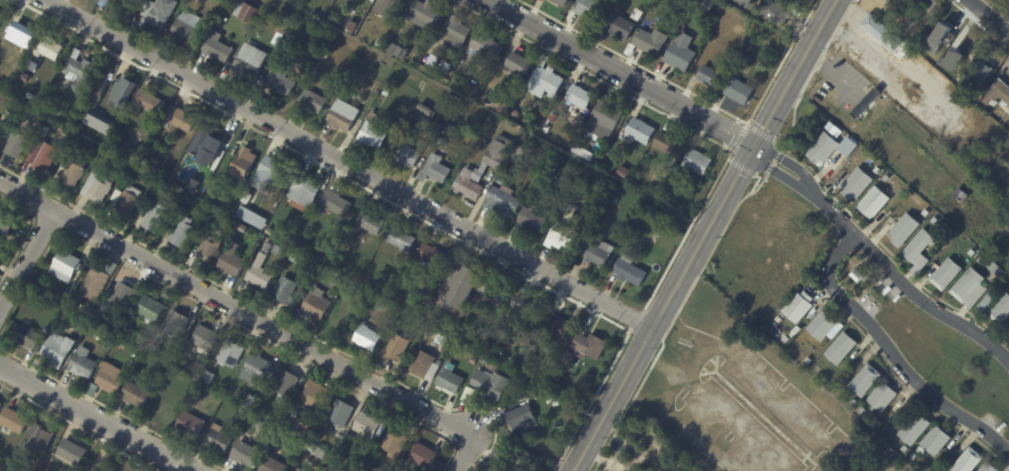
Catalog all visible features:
building: (205, 0)
building: (351, 0)
building: (370, 0)
building: (797, 0)
building: (888, 0)
building: (789, 1)
building: (108, 2)
building: (560, 2)
building: (686, 2)
building: (746, 2)
building: (130, 3)
building: (704, 4)
building: (392, 7)
building: (589, 9)
building: (751, 9)
building: (929, 10)
building: (162, 11)
building: (249, 11)
building: (428, 13)
building: (775, 14)
building: (637, 15)
road: (990, 16)
building: (2, 17)
building: (687, 19)
building: (347, 21)
building: (282, 25)
building: (683, 25)
building: (354, 26)
building: (620, 27)
building: (193, 28)
building: (879, 32)
building: (461, 33)
building: (22, 34)
building: (650, 42)
building: (948, 42)
building: (29, 47)
building: (221, 47)
building: (319, 47)
building: (51, 48)
building: (488, 48)
building: (395, 49)
building: (680, 53)
building: (326, 54)
building: (407, 57)
building: (253, 60)
building: (521, 63)
building: (36, 64)
building: (18, 67)
building: (371, 67)
road: (889, 67)
building: (299, 69)
building: (981, 69)
building: (380, 71)
road: (796, 71)
building: (81, 72)
road: (621, 72)
building: (861, 72)
building: (440, 74)
building: (709, 77)
building: (547, 79)
building: (390, 80)
building: (283, 81)
building: (119, 84)
building: (389, 91)
building: (738, 92)
building: (997, 94)
building: (584, 96)
building: (316, 100)
building: (153, 101)
building: (453, 106)
building: (542, 106)
building: (508, 107)
building: (441, 110)
building: (1008, 112)
building: (518, 113)
building: (345, 116)
building: (183, 118)
building: (554, 118)
building: (607, 120)
building: (76, 121)
building: (82, 125)
building: (499, 127)
building: (453, 128)
building: (549, 128)
building: (63, 129)
building: (3, 130)
building: (645, 130)
building: (48, 131)
building: (376, 131)
building: (427, 132)
building: (151, 136)
building: (525, 136)
building: (571, 137)
building: (446, 139)
building: (210, 143)
building: (672, 143)
building: (21, 144)
traffic signals: (755, 144)
building: (434, 145)
building: (94, 147)
building: (831, 147)
building: (585, 151)
building: (414, 154)
building: (46, 155)
traffic signals: (747, 156)
building: (518, 157)
road: (783, 160)
building: (702, 161)
building: (125, 162)
building: (247, 163)
road: (348, 163)
building: (486, 168)
building: (439, 169)
building: (78, 170)
building: (877, 170)
building: (626, 171)
road: (774, 171)
building: (145, 172)
building: (273, 174)
building: (497, 178)
building: (887, 178)
building: (548, 181)
building: (856, 183)
building: (196, 185)
building: (100, 187)
building: (308, 191)
building: (579, 191)
building: (960, 195)
building: (130, 200)
building: (506, 200)
building: (174, 202)
building: (339, 202)
building: (873, 202)
building: (571, 207)
building: (580, 208)
building: (926, 213)
building: (159, 215)
building: (594, 215)
building: (256, 217)
building: (536, 217)
building: (935, 220)
building: (370, 221)
building: (8, 222)
building: (655, 225)
building: (244, 226)
building: (903, 229)
building: (186, 231)
building: (273, 231)
building: (564, 235)
building: (404, 238)
building: (306, 245)
building: (2, 247)
building: (213, 248)
building: (271, 248)
building: (919, 250)
building: (600, 251)
building: (283, 252)
building: (972, 253)
building: (433, 254)
road: (26, 259)
building: (235, 259)
building: (981, 260)
building: (305, 261)
building: (68, 266)
building: (995, 268)
building: (633, 270)
building: (263, 272)
building: (945, 274)
building: (856, 275)
road: (900, 278)
building: (342, 279)
building: (100, 280)
building: (466, 286)
building: (969, 287)
building: (287, 289)
building: (497, 289)
building: (128, 294)
building: (362, 295)
building: (320, 302)
building: (986, 302)
building: (528, 306)
building: (106, 307)
road: (662, 307)
building: (798, 307)
building: (154, 309)
road: (237, 309)
building: (91, 310)
building: (1000, 310)
building: (345, 314)
building: (782, 316)
building: (78, 318)
building: (779, 320)
building: (144, 322)
building: (179, 323)
building: (562, 324)
building: (1008, 324)
building: (821, 325)
building: (1008, 331)
building: (503, 332)
building: (542, 334)
building: (149, 335)
building: (32, 336)
building: (370, 337)
building: (210, 340)
building: (445, 342)
building: (593, 344)
building: (840, 348)
building: (61, 349)
building: (399, 349)
building: (553, 350)
road: (893, 352)
building: (235, 353)
building: (570, 354)
building: (475, 360)
building: (809, 361)
building: (86, 362)
building: (488, 363)
building: (497, 365)
building: (429, 366)
building: (260, 369)
building: (212, 375)
building: (114, 377)
building: (188, 378)
building: (865, 380)
building: (453, 381)
building: (288, 383)
building: (495, 384)
building: (96, 389)
building: (535, 392)
building: (139, 393)
building: (318, 394)
building: (474, 395)
building: (882, 396)
building: (525, 397)
building: (255, 400)
building: (172, 401)
building: (854, 402)
building: (2, 407)
building: (863, 410)
building: (344, 412)
building: (276, 413)
building: (246, 415)
building: (527, 417)
road: (97, 418)
building: (16, 420)
building: (305, 422)
building: (193, 423)
building: (263, 425)
building: (370, 425)
building: (914, 429)
building: (287, 434)
building: (44, 437)
road: (618, 437)
building: (221, 438)
building: (935, 440)
building: (397, 442)
building: (653, 443)
building: (319, 449)
building: (904, 449)
building: (76, 451)
building: (249, 453)
building: (353, 454)
road: (466, 454)
building: (426, 456)
building: (913, 456)
park: (118, 458)
building: (523, 458)
road: (606, 458)
building: (967, 461)
building: (276, 462)
building: (686, 466)
building: (988, 467)
building: (298, 469)
building: (382, 469)
building: (502, 469)
building: (66, 470)
building: (343, 470)
building: (672, 470)

